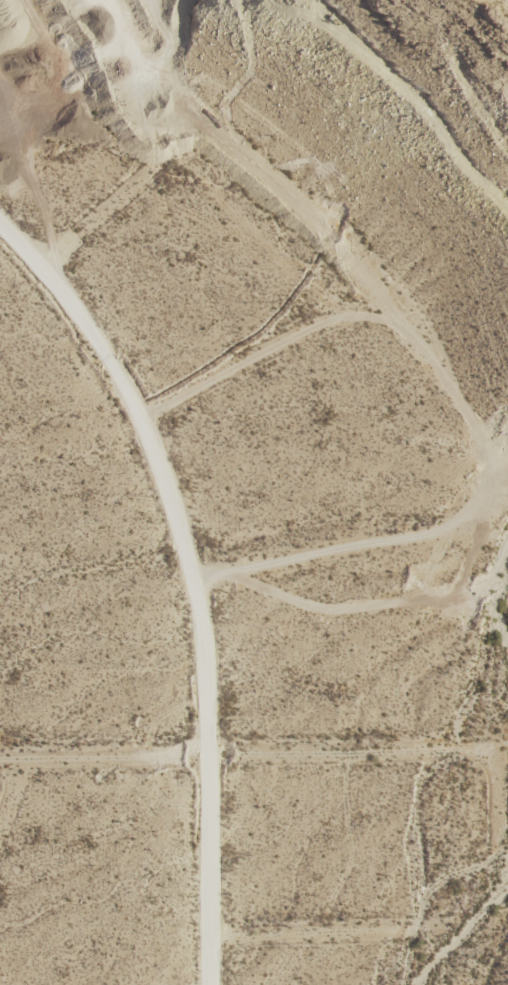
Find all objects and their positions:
quarry: (58, 19)
road: (118, 188)
road: (240, 356)
road: (431, 370)
road: (0, 547)
road: (192, 577)
road: (254, 750)
road: (12, 788)
road: (309, 932)

